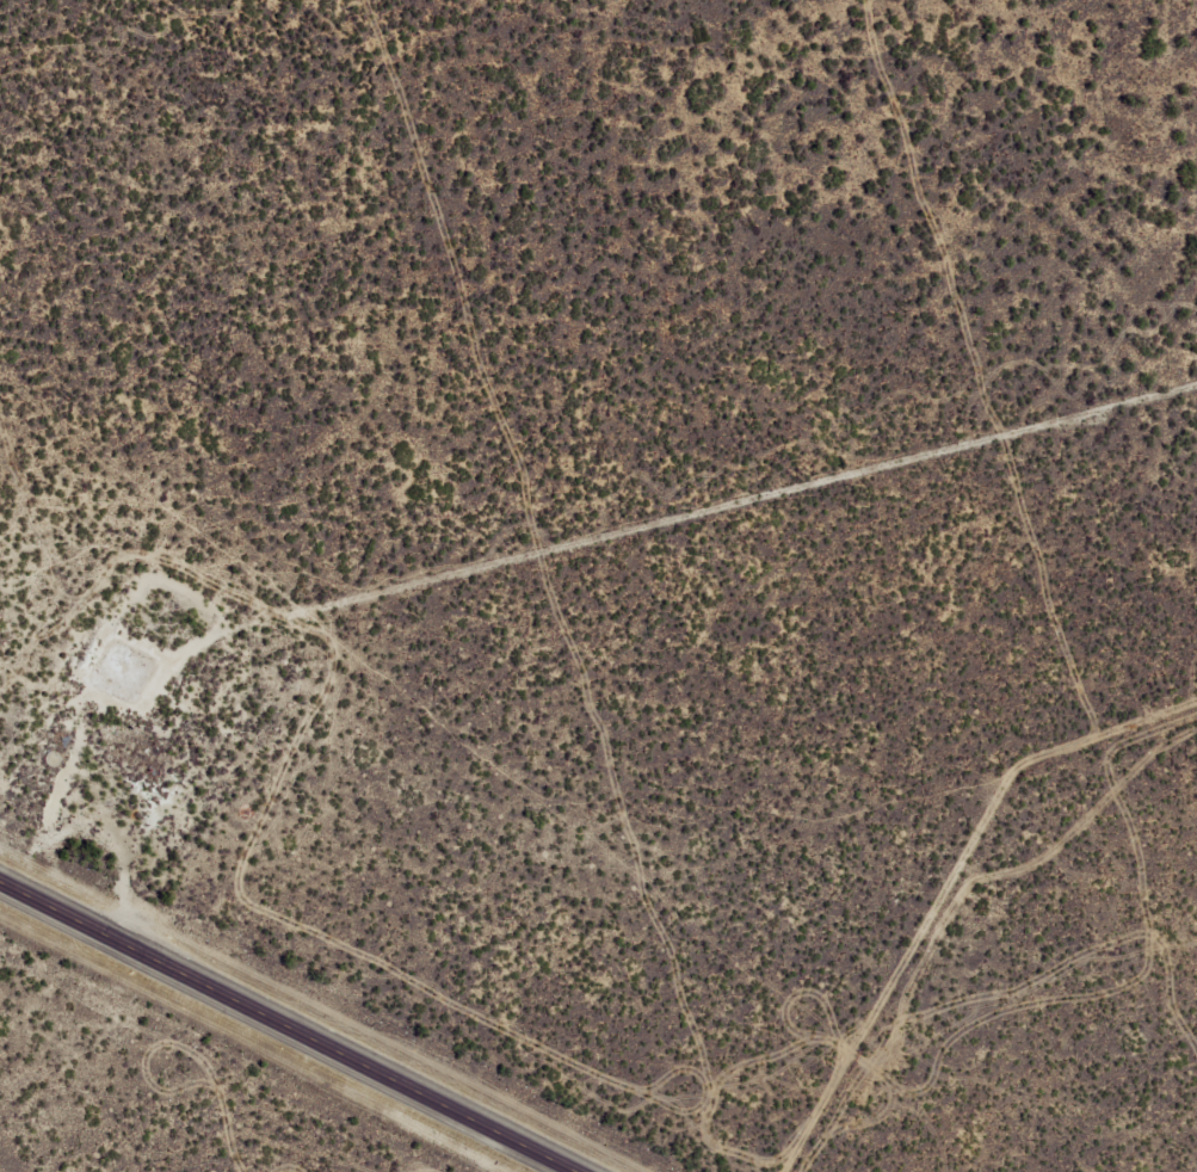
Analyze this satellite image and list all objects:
road: (543, 565)
road: (280, 1025)

